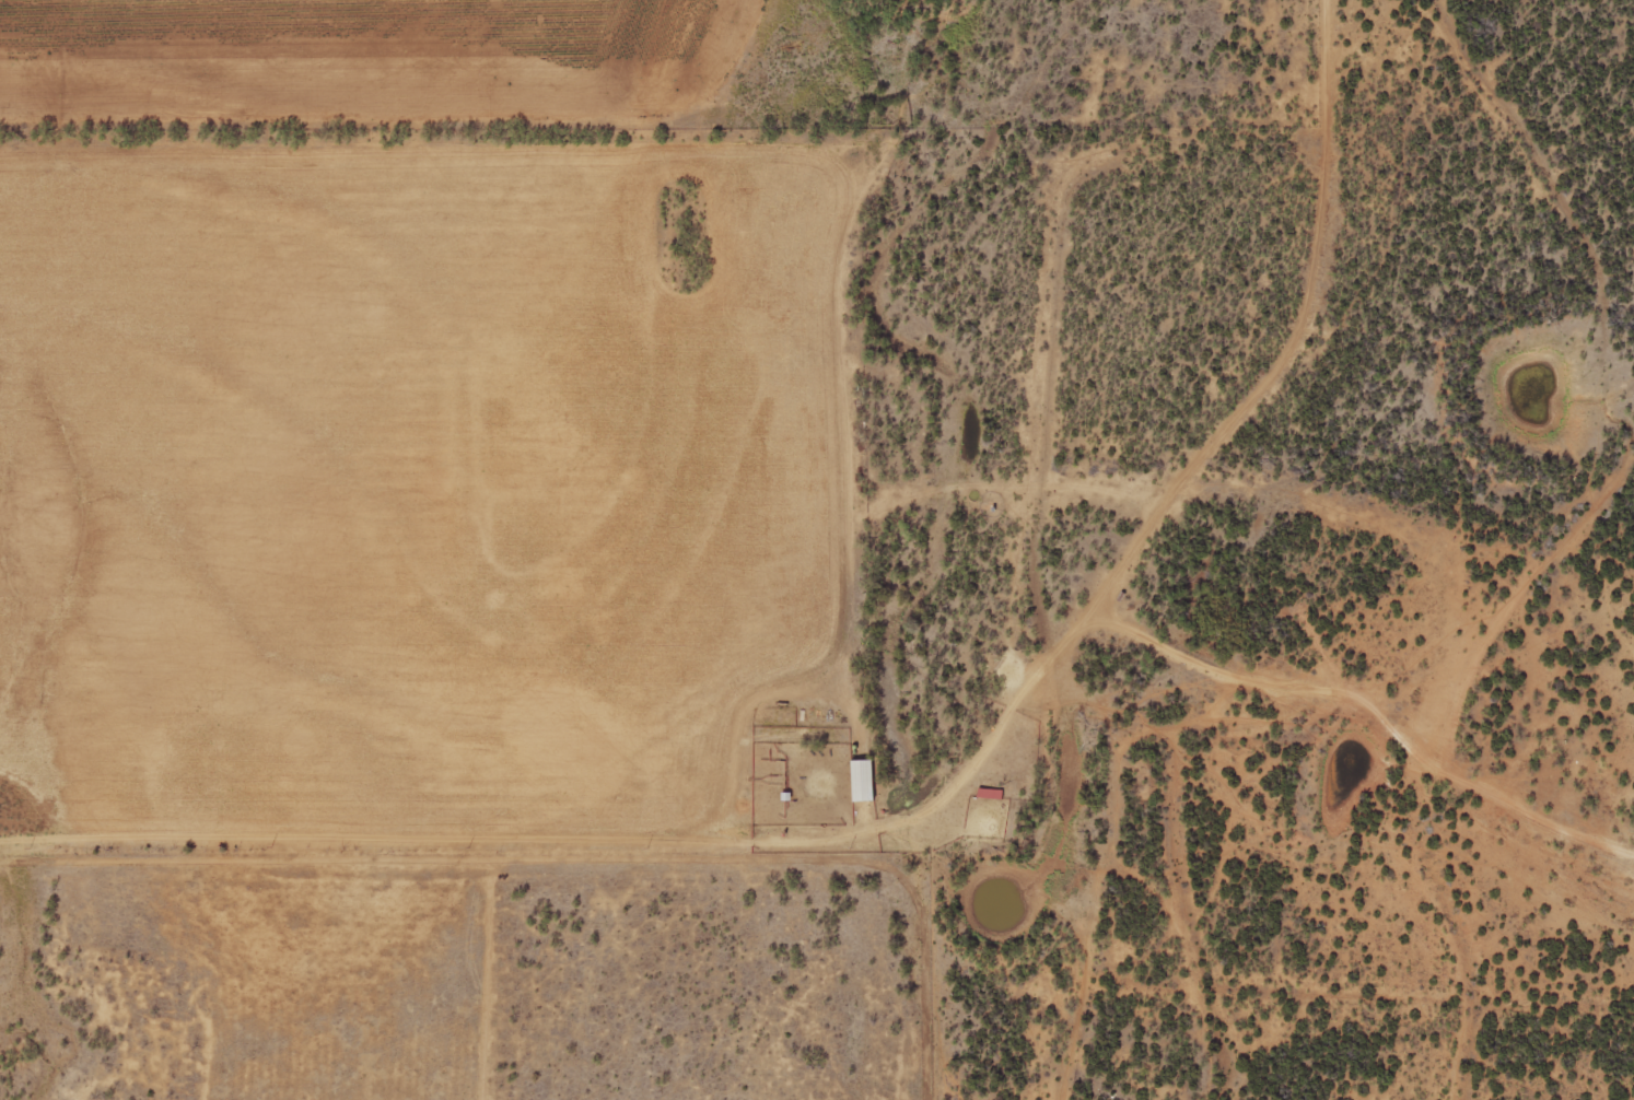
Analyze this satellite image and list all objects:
building: (861, 779)

